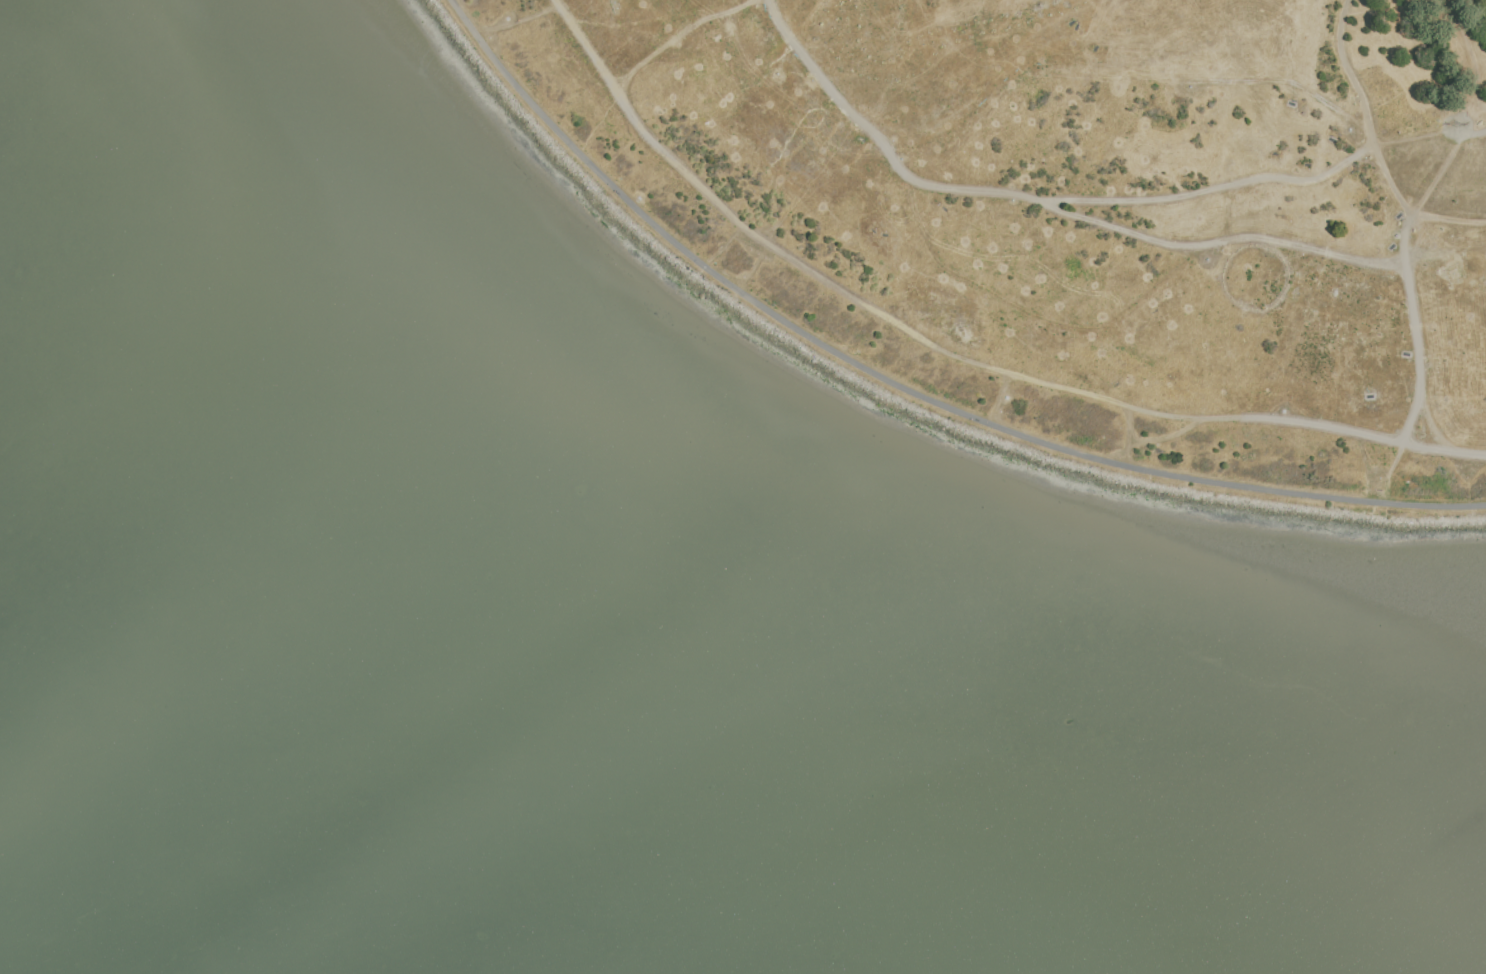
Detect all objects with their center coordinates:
road: (512, 23)
road: (1341, 62)
road: (1363, 126)
road: (1474, 133)
road: (1031, 197)
road: (1221, 240)
road: (1407, 280)
road: (954, 350)
road: (903, 385)

